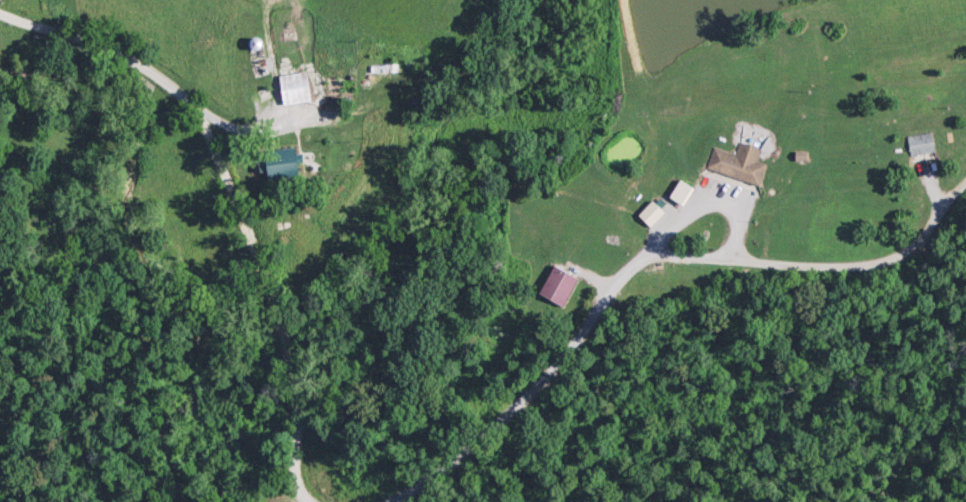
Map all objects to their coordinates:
building: (381, 70)
building: (920, 143)
building: (277, 162)
building: (736, 162)
road: (241, 189)
building: (678, 192)
building: (648, 213)
road: (701, 214)
road: (727, 264)
building: (555, 285)
road: (557, 376)

